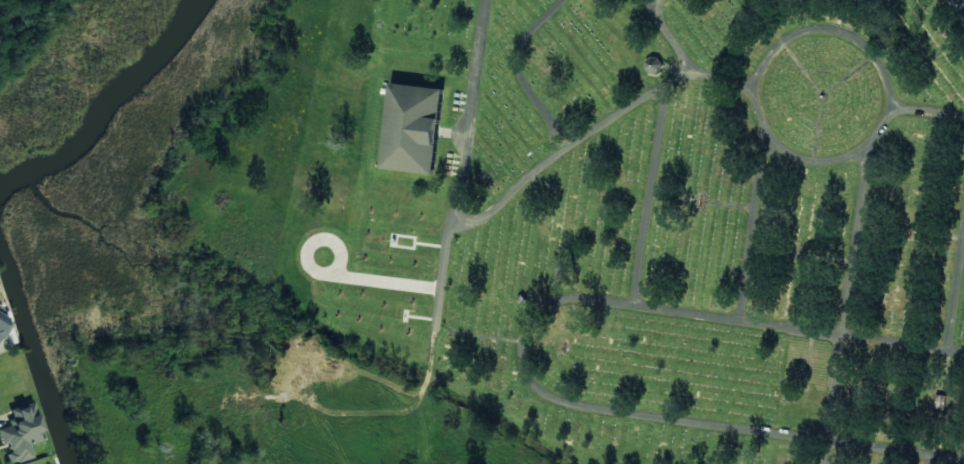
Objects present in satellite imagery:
road: (664, 9)
road: (956, 11)
road: (670, 33)
road: (864, 47)
road: (526, 71)
road: (678, 78)
building: (412, 129)
park: (617, 216)
road: (477, 219)
road: (755, 229)
road: (852, 269)
road: (956, 299)
road: (398, 301)
building: (0, 309)
building: (2, 325)
road: (525, 352)
building: (943, 404)
building: (18, 433)

